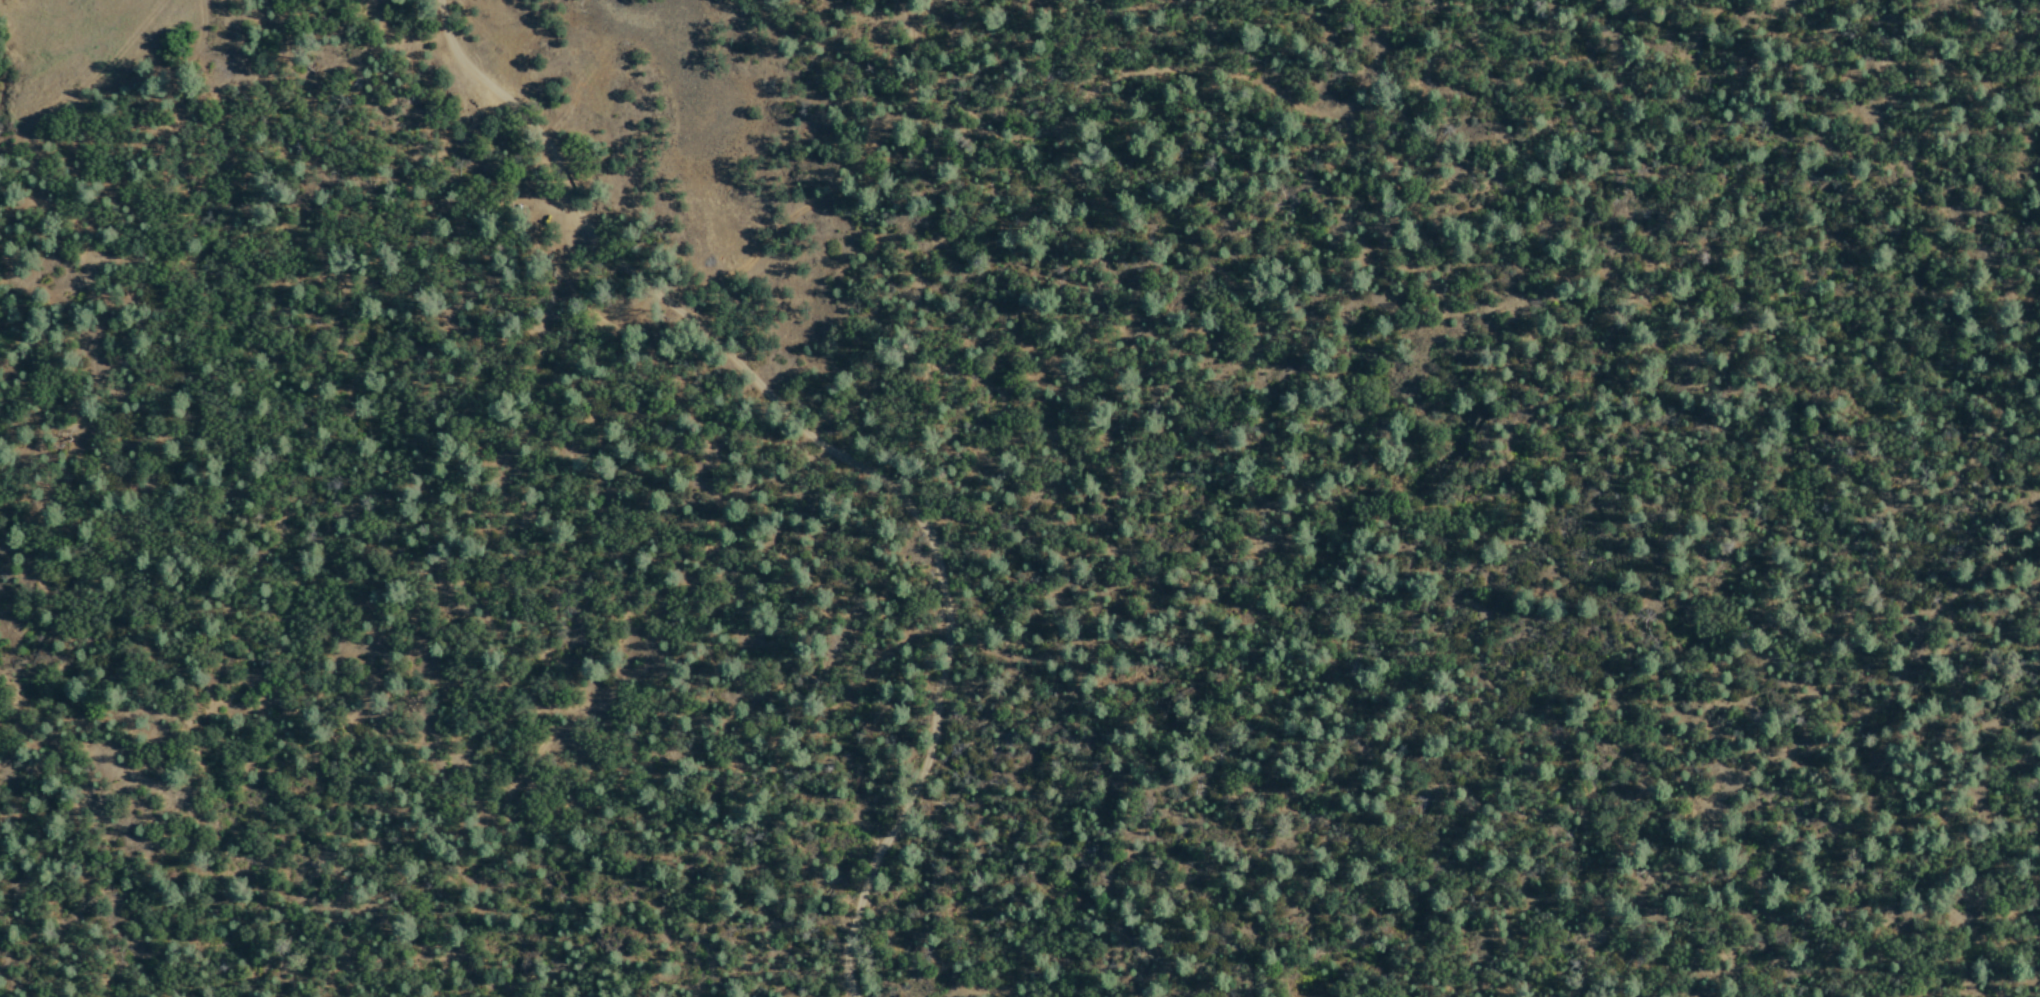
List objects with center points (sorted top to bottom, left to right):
road: (822, 453)

